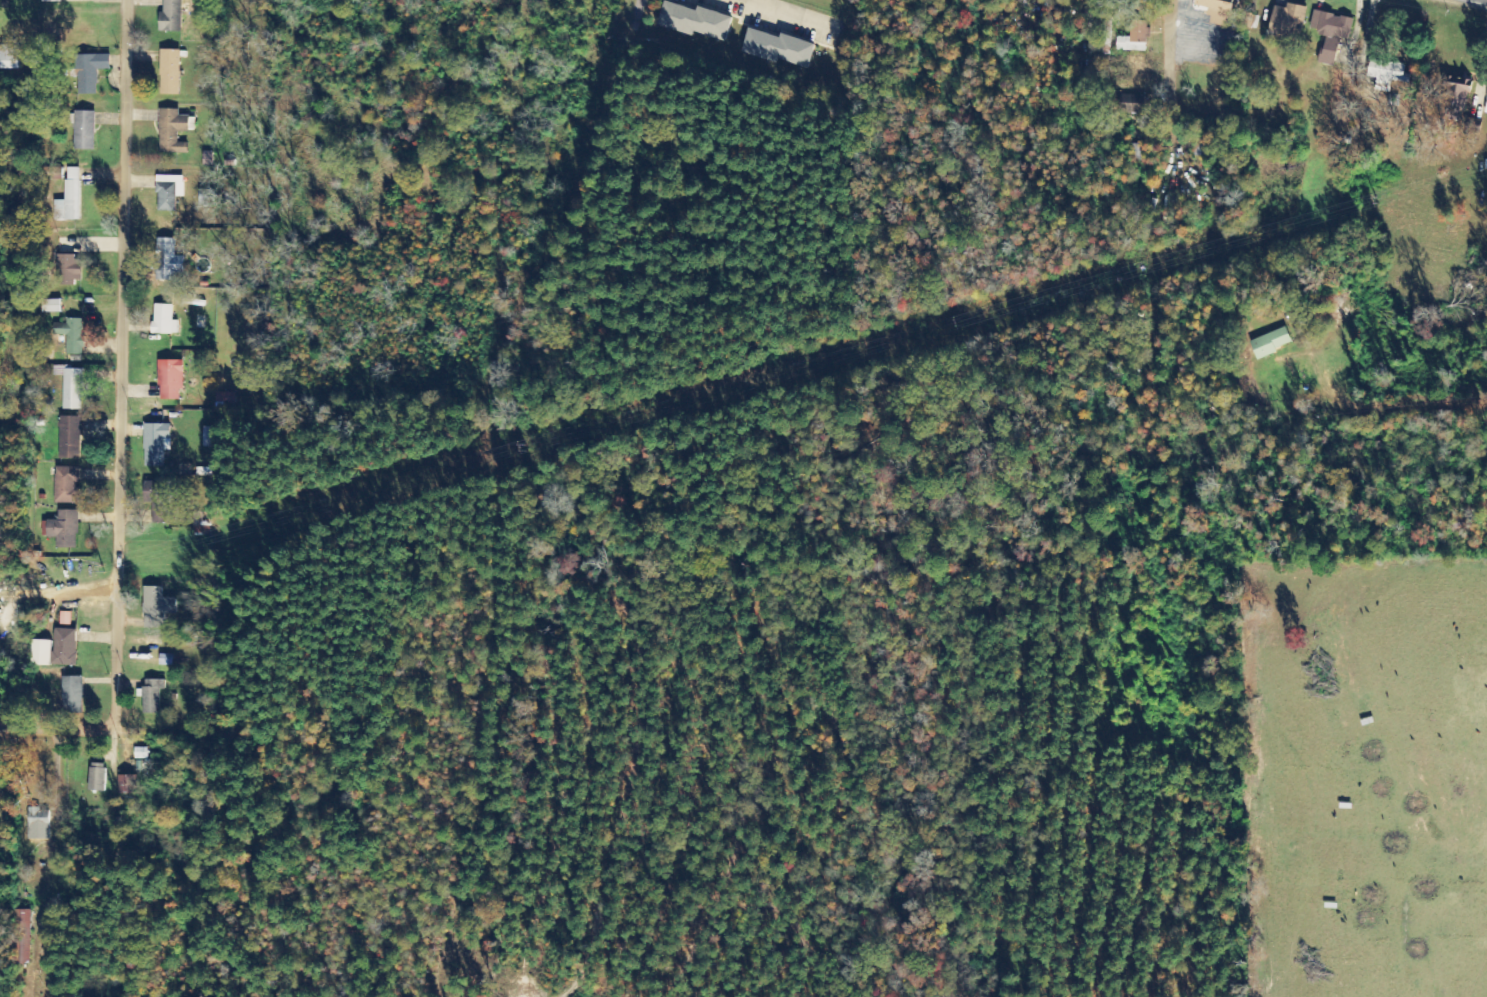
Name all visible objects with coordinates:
building: (52, 1)
building: (1219, 11)
building: (171, 16)
building: (696, 22)
building: (1287, 24)
road: (455, 29)
road: (341, 32)
road: (625, 34)
building: (1331, 34)
building: (1134, 38)
building: (777, 49)
building: (10, 57)
building: (91, 71)
building: (170, 72)
building: (1388, 74)
building: (1456, 99)
building: (1132, 104)
building: (1486, 112)
building: (172, 129)
building: (84, 130)
building: (169, 192)
building: (69, 198)
building: (167, 260)
building: (69, 270)
building: (51, 306)
building: (164, 320)
building: (71, 335)
building: (1270, 343)
road: (118, 364)
building: (170, 380)
building: (72, 389)
building: (207, 437)
building: (70, 438)
building: (156, 444)
building: (67, 485)
building: (159, 501)
building: (202, 523)
building: (64, 530)
building: (154, 607)
building: (65, 618)
building: (64, 648)
building: (41, 654)
building: (72, 693)
building: (150, 700)
road: (52, 730)
building: (97, 777)
building: (128, 784)
building: (38, 823)
building: (20, 938)

